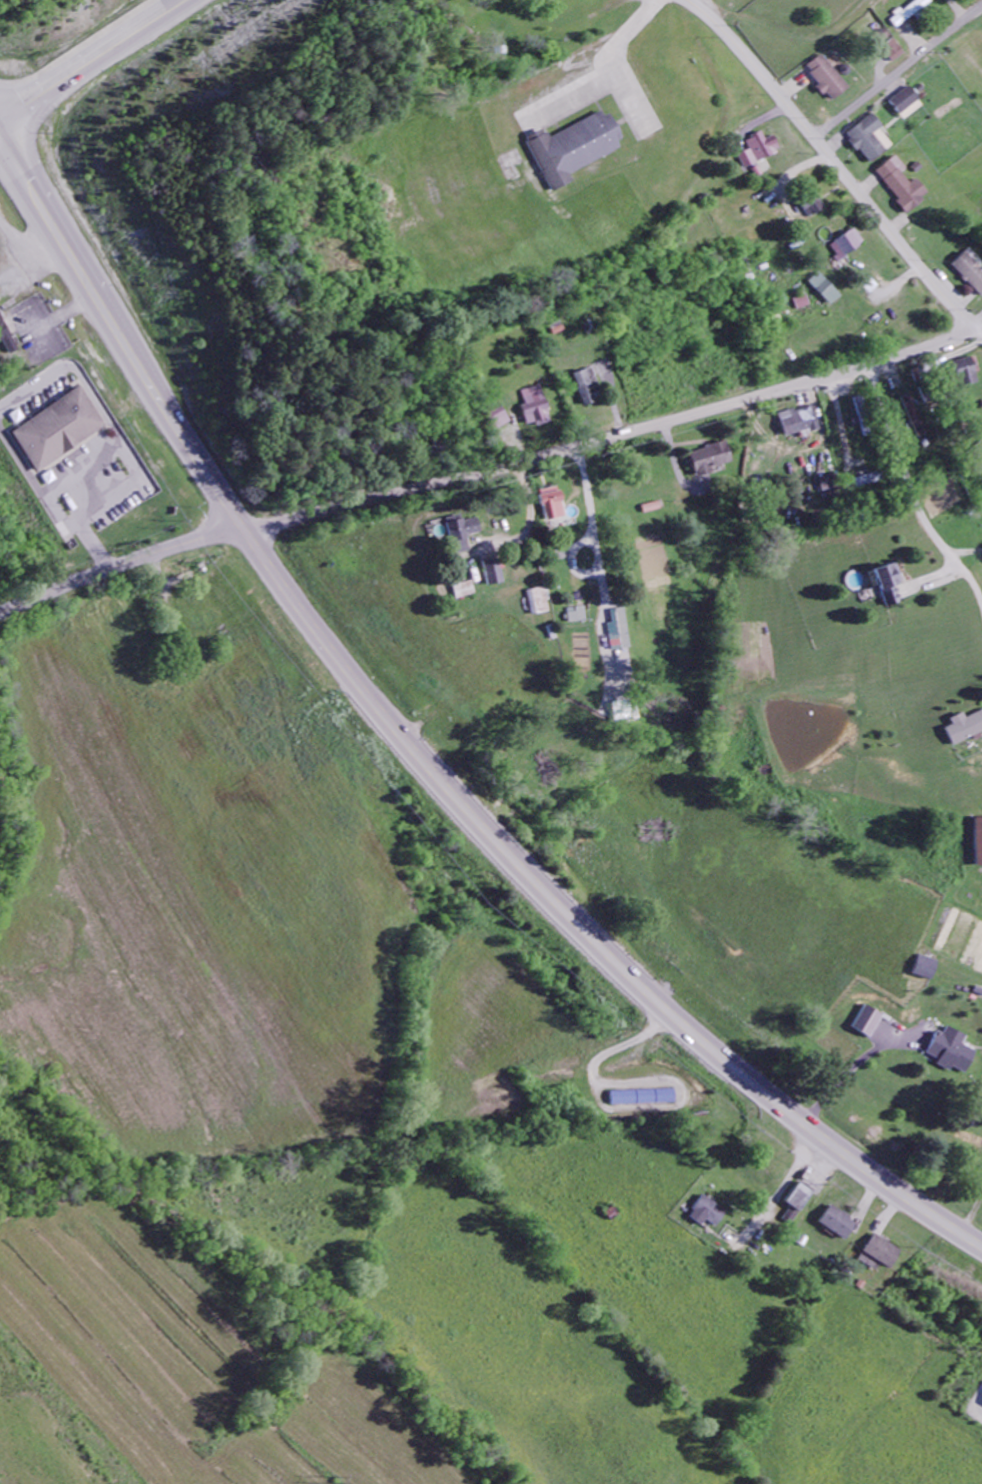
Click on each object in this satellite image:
building: (912, 13)
building: (894, 52)
road: (98, 63)
road: (899, 72)
building: (829, 81)
building: (908, 105)
building: (872, 141)
building: (573, 148)
building: (761, 151)
road: (834, 161)
building: (905, 186)
building: (815, 209)
building: (848, 245)
building: (973, 271)
building: (826, 290)
building: (6, 340)
building: (969, 372)
building: (589, 387)
building: (537, 407)
building: (915, 417)
building: (800, 422)
building: (58, 430)
road: (614, 436)
building: (711, 459)
road: (80, 468)
building: (871, 481)
building: (831, 484)
road: (912, 490)
building: (555, 505)
building: (462, 534)
road: (580, 540)
road: (120, 566)
building: (494, 573)
building: (890, 585)
building: (464, 591)
building: (539, 602)
building: (577, 615)
building: (620, 631)
building: (965, 729)
road: (418, 757)
building: (978, 842)
building: (924, 969)
building: (868, 1023)
road: (561, 1051)
building: (952, 1052)
building: (645, 1099)
building: (800, 1199)
building: (708, 1214)
building: (840, 1224)
building: (883, 1253)

